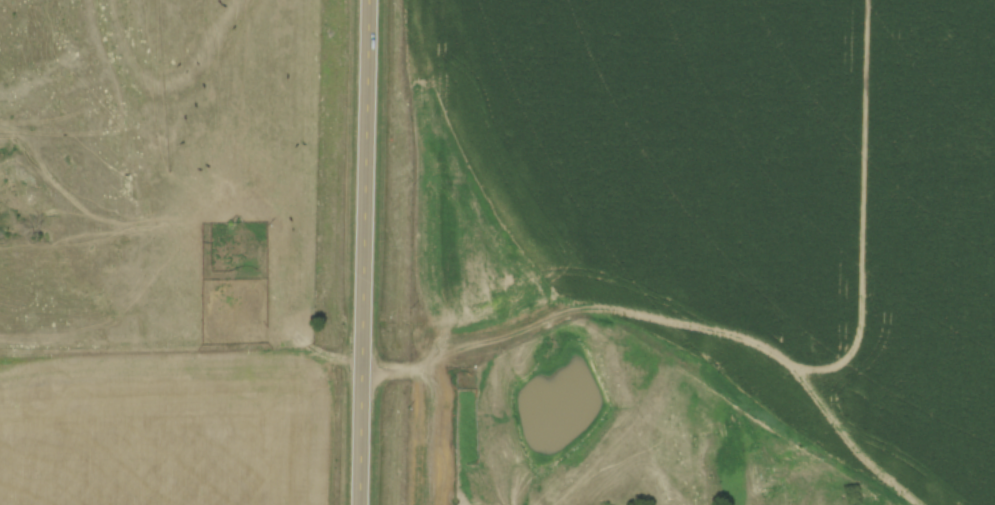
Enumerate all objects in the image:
crop: (738, 200)
road: (369, 252)
crop: (163, 433)
building: (449, 456)

